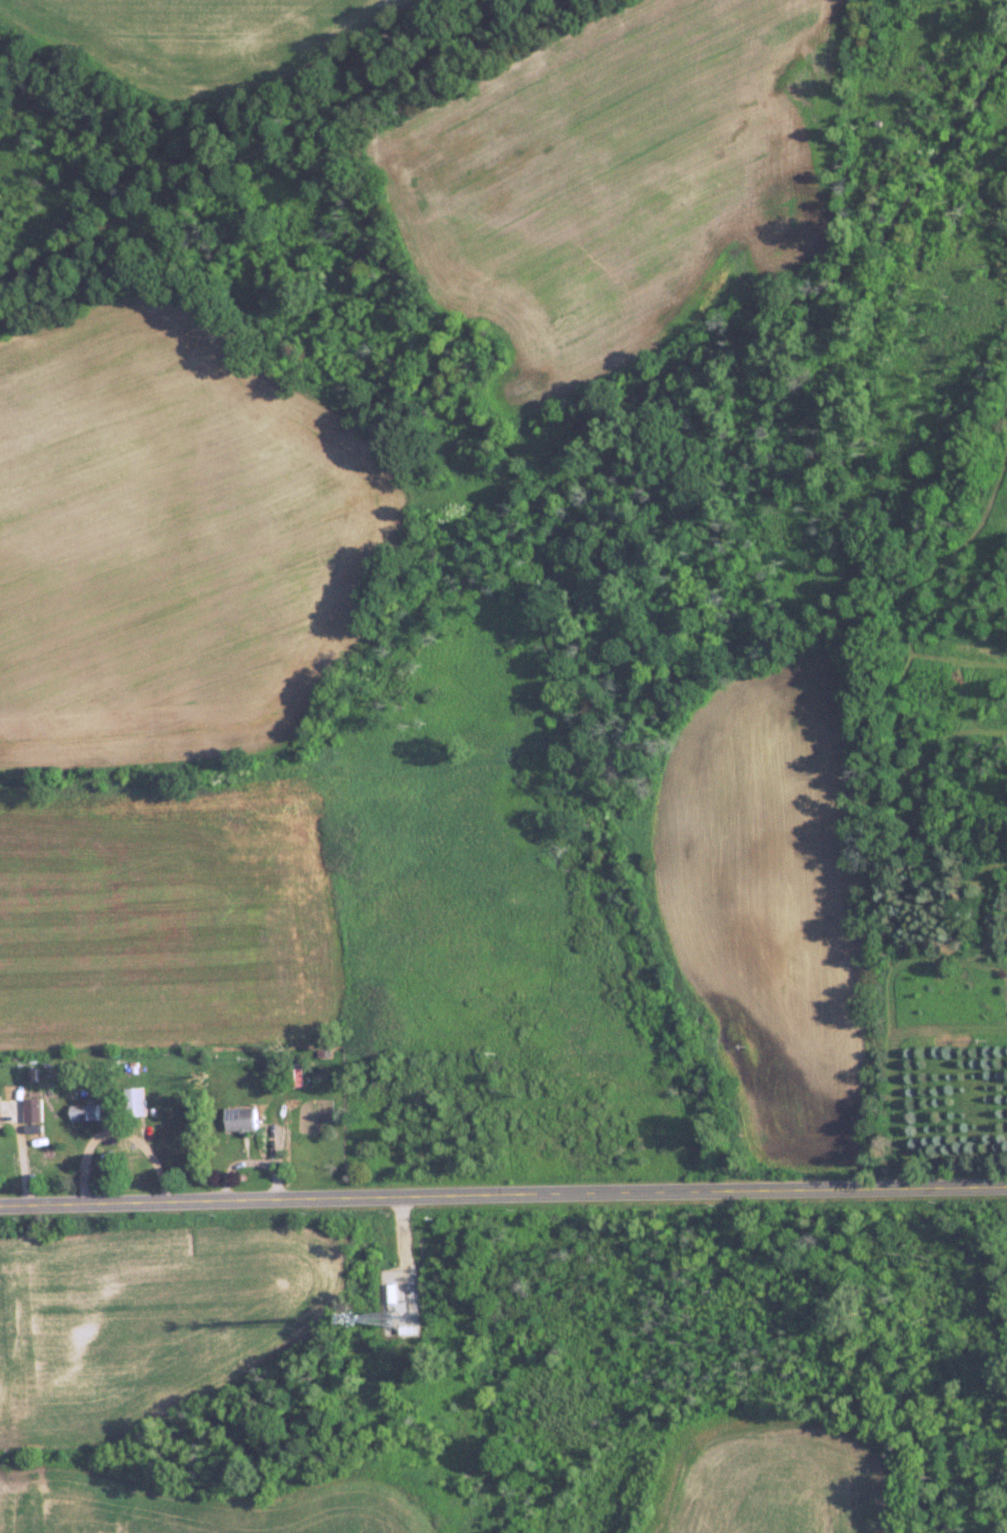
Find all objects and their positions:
building: (293, 1074)
building: (135, 1100)
building: (31, 1109)
building: (83, 1110)
building: (241, 1117)
road: (131, 1131)
road: (503, 1198)

